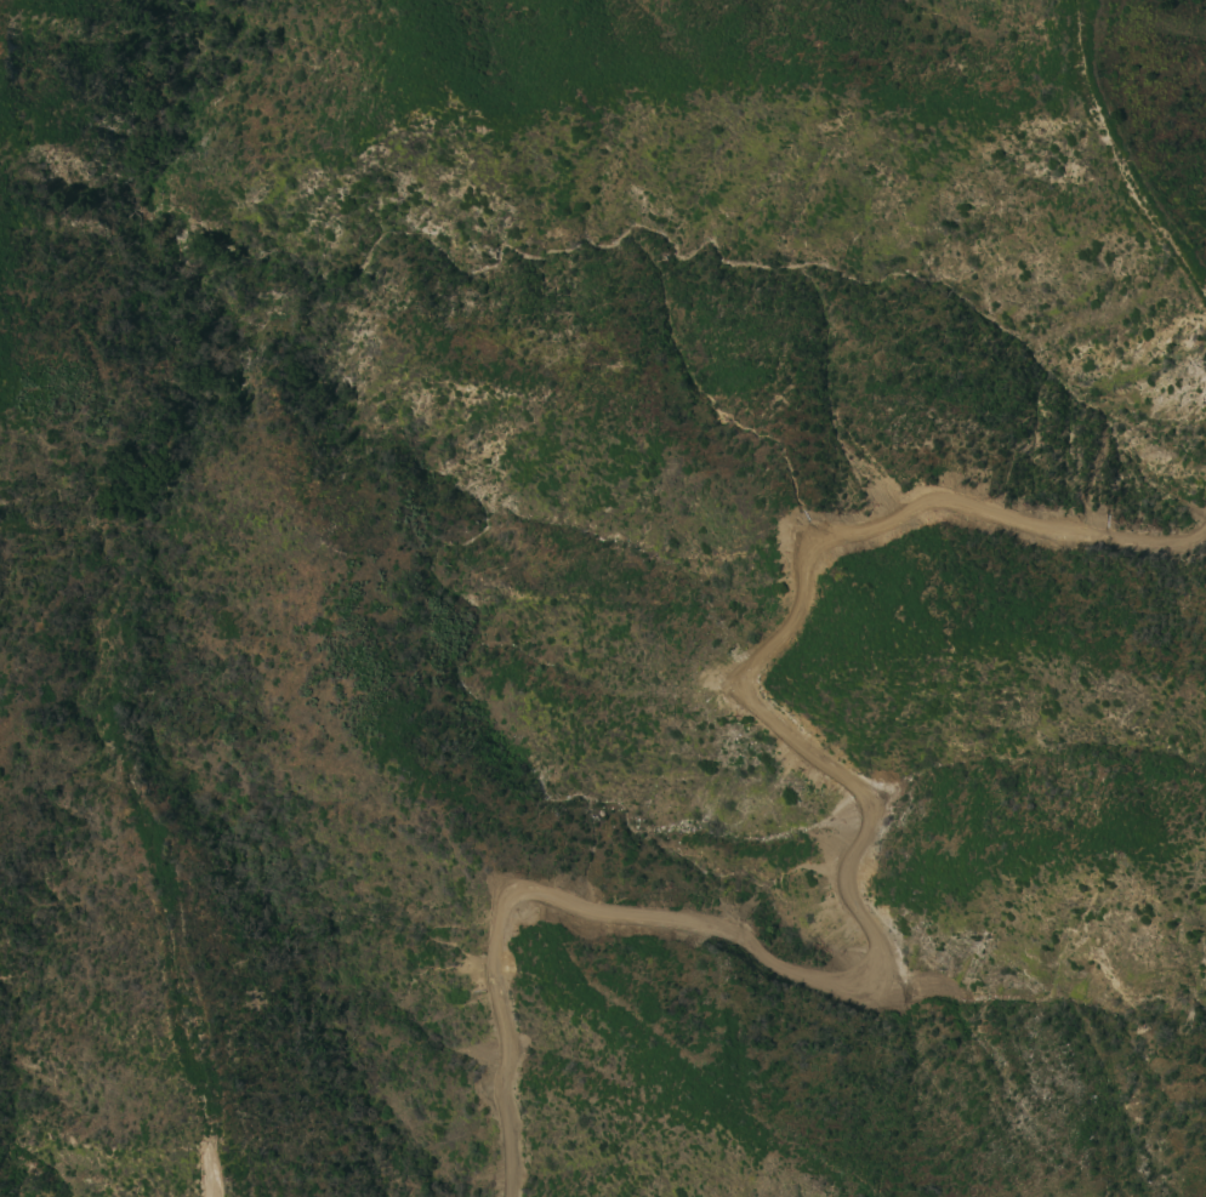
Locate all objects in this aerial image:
road: (1120, 153)
road: (844, 870)

